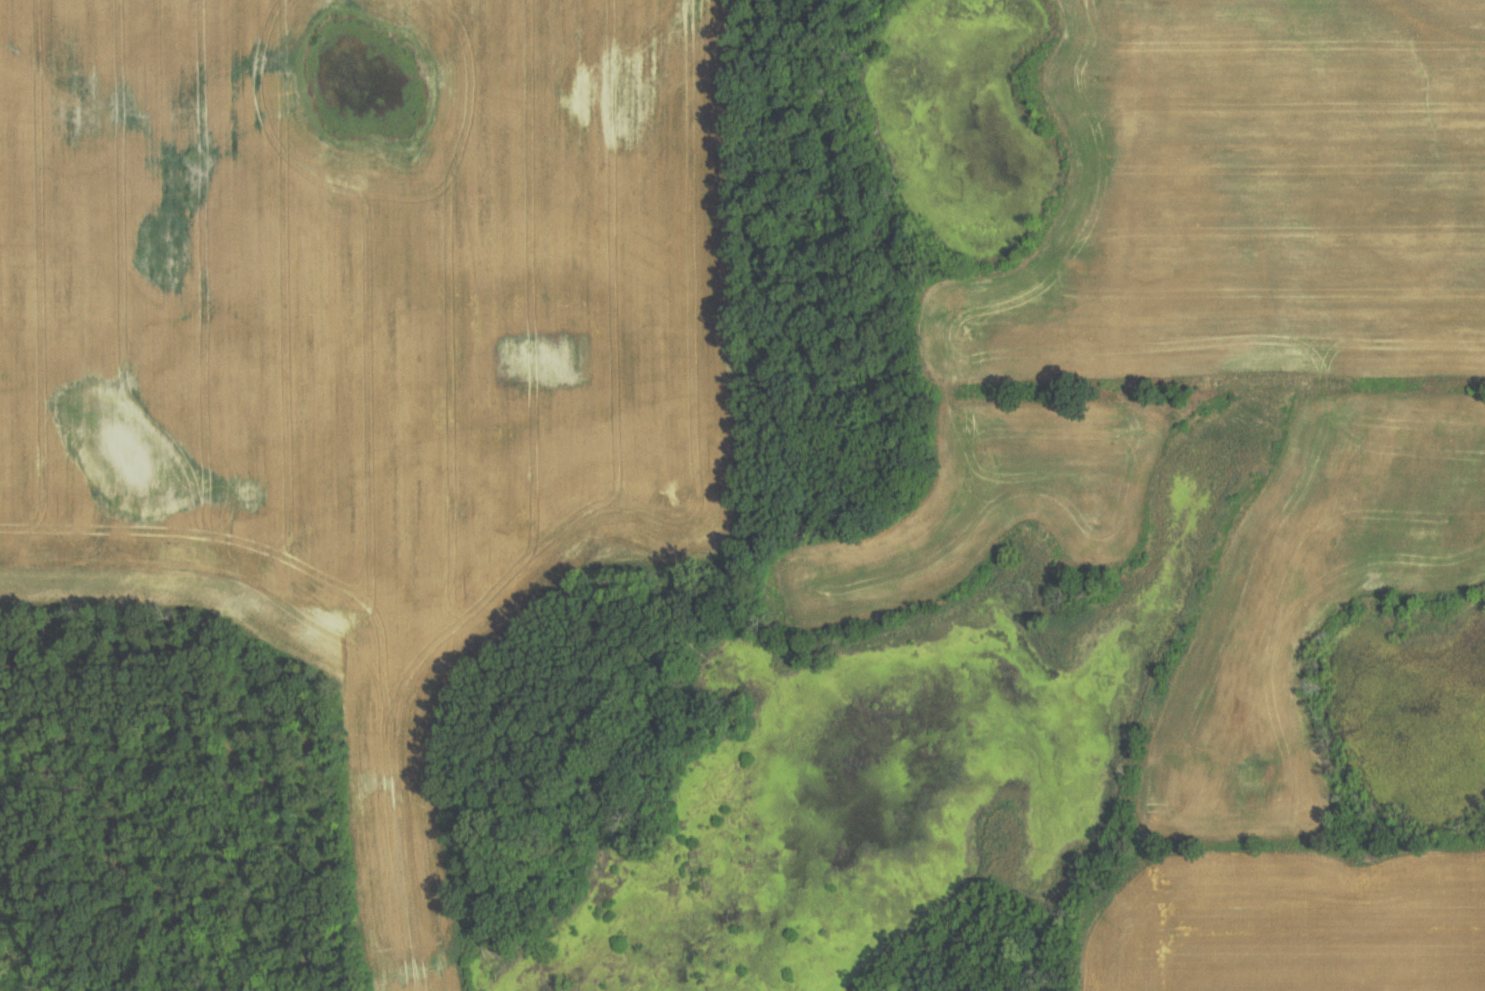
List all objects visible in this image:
crop: (1246, 198)
crop: (401, 827)
crop: (1303, 926)

